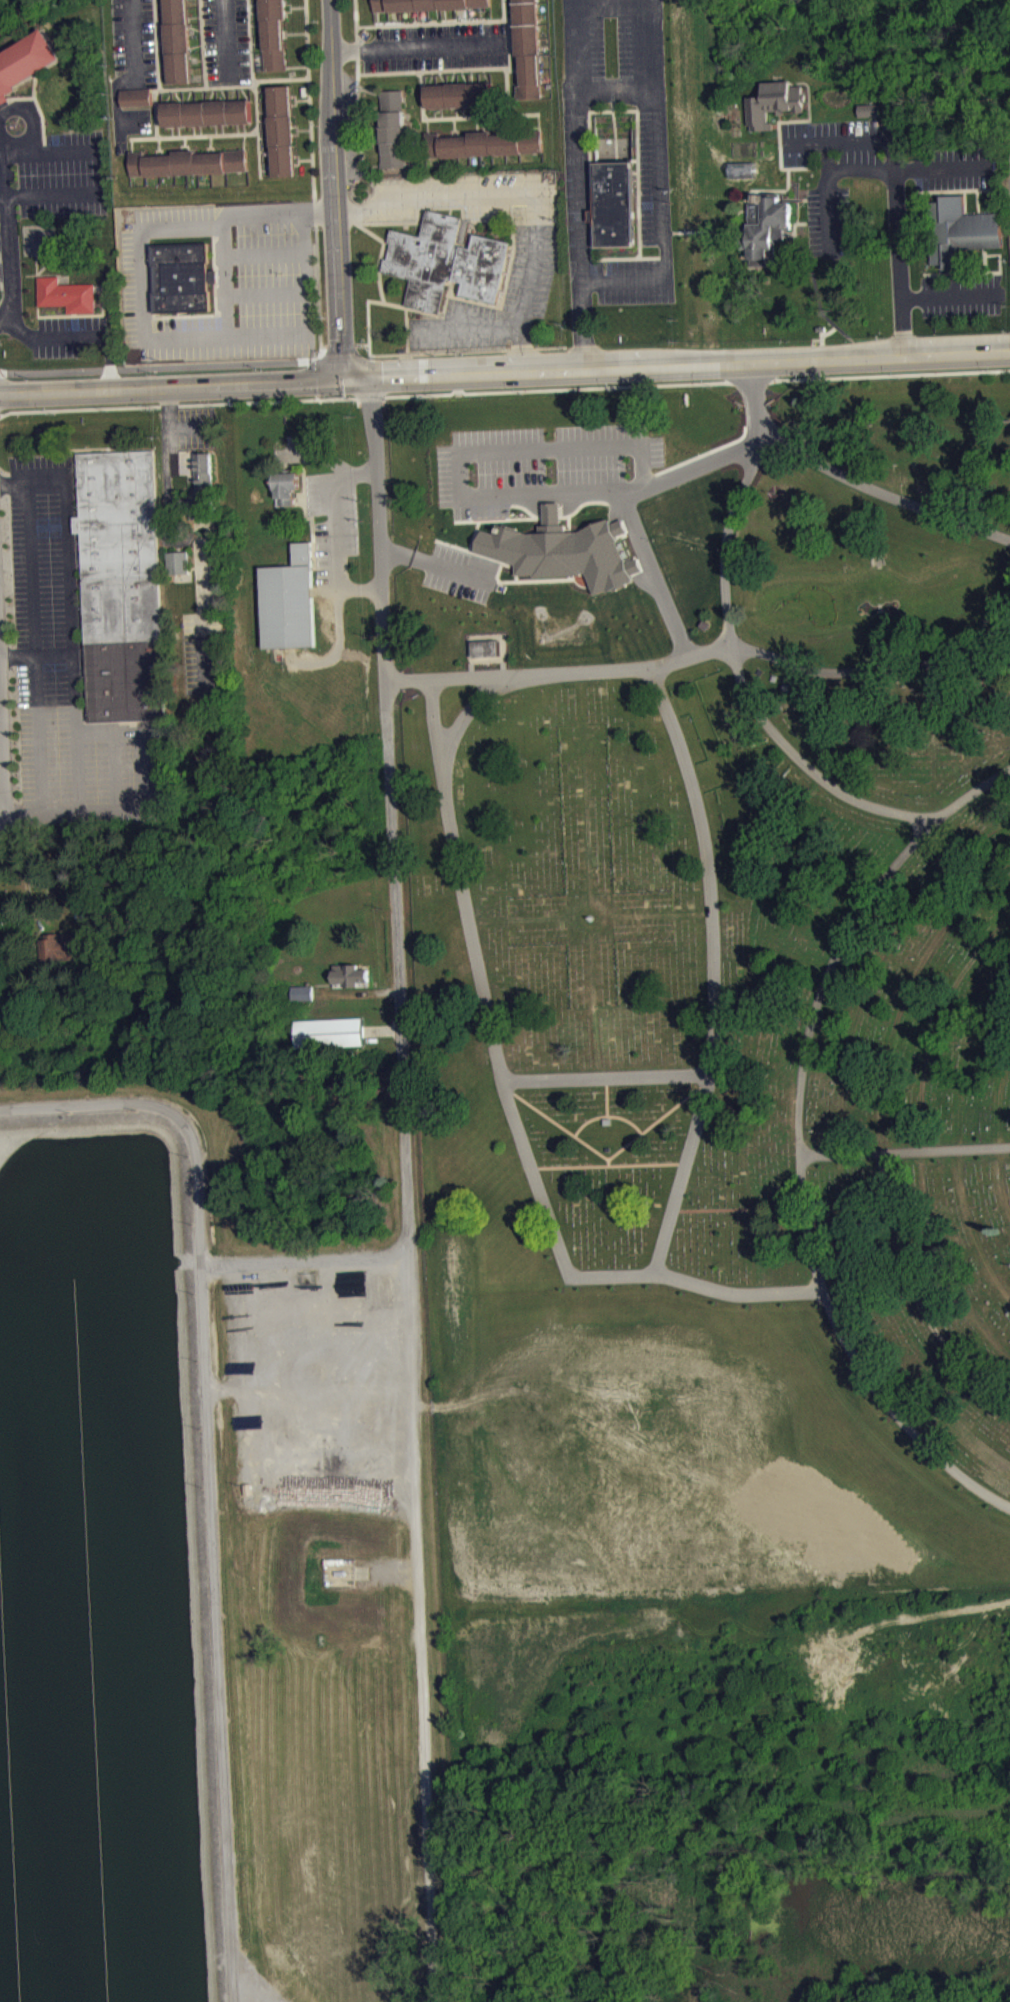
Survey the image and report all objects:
road: (255, 3)
road: (161, 4)
building: (424, 4)
road: (503, 5)
road: (293, 6)
road: (504, 10)
road: (288, 11)
road: (161, 12)
road: (256, 14)
road: (195, 15)
road: (431, 23)
road: (508, 23)
road: (256, 24)
road: (196, 28)
road: (286, 31)
road: (296, 32)
road: (162, 33)
building: (274, 34)
road: (509, 36)
road: (134, 40)
road: (250, 40)
building: (179, 41)
road: (162, 42)
road: (226, 42)
parking lot: (227, 42)
road: (257, 42)
parking lot: (134, 43)
road: (204, 43)
road: (157, 44)
road: (578, 44)
road: (197, 45)
road: (417, 46)
parking lot: (435, 47)
building: (528, 47)
road: (509, 53)
road: (258, 59)
building: (25, 62)
road: (163, 63)
road: (297, 66)
road: (486, 67)
road: (517, 67)
road: (515, 70)
road: (164, 72)
road: (646, 77)
road: (278, 78)
road: (794, 82)
road: (359, 85)
road: (262, 90)
road: (222, 93)
road: (243, 93)
road: (211, 94)
building: (459, 94)
road: (612, 94)
road: (187, 95)
road: (512, 95)
building: (136, 96)
road: (167, 96)
road: (176, 96)
road: (17, 98)
road: (296, 98)
road: (303, 99)
building: (774, 102)
road: (116, 105)
road: (478, 107)
road: (256, 108)
road: (434, 108)
road: (456, 108)
road: (41, 109)
road: (441, 109)
road: (463, 109)
road: (485, 109)
building: (870, 109)
road: (263, 111)
road: (31, 112)
building: (206, 113)
road: (434, 117)
road: (638, 117)
road: (782, 117)
building: (871, 117)
road: (263, 119)
road: (779, 121)
road: (483, 122)
road: (476, 123)
road: (589, 123)
road: (156, 124)
road: (427, 124)
road: (503, 124)
road: (509, 124)
parking lot: (130, 125)
road: (776, 125)
road: (453, 126)
road: (237, 128)
road: (244, 128)
building: (282, 128)
road: (298, 128)
road: (304, 128)
building: (392, 128)
road: (215, 129)
road: (222, 129)
road: (193, 130)
road: (200, 130)
road: (178, 131)
road: (457, 131)
road: (172, 132)
parking lot: (653, 133)
road: (265, 137)
road: (244, 140)
parking lot: (833, 140)
road: (132, 141)
road: (838, 141)
building: (483, 143)
road: (781, 143)
road: (184, 144)
road: (210, 144)
road: (188, 146)
road: (159, 147)
road: (213, 148)
road: (52, 150)
road: (163, 150)
road: (266, 150)
road: (259, 154)
road: (299, 158)
road: (306, 158)
road: (631, 159)
road: (649, 159)
building: (188, 162)
road: (943, 167)
parking lot: (953, 168)
road: (862, 169)
road: (266, 170)
road: (650, 171)
road: (313, 172)
road: (3, 173)
parking lot: (51, 175)
road: (354, 175)
road: (964, 178)
road: (977, 178)
road: (789, 184)
road: (332, 187)
road: (765, 190)
road: (955, 190)
road: (55, 193)
parking lot: (468, 195)
road: (498, 195)
road: (820, 197)
road: (831, 197)
road: (799, 198)
road: (979, 201)
road: (966, 202)
building: (614, 204)
road: (798, 210)
road: (583, 214)
parking lot: (830, 219)
road: (820, 221)
road: (370, 222)
road: (665, 222)
road: (513, 225)
road: (796, 226)
building: (768, 227)
road: (6, 229)
road: (583, 229)
road: (728, 230)
building: (960, 231)
road: (656, 232)
road: (303, 233)
road: (4, 235)
road: (639, 235)
road: (592, 239)
road: (898, 244)
road: (384, 258)
building: (446, 261)
road: (41, 268)
road: (941, 269)
road: (379, 271)
road: (973, 272)
road: (227, 274)
road: (54, 275)
building: (182, 276)
parking lot: (134, 277)
road: (959, 284)
parking lot: (251, 290)
road: (817, 290)
road: (10, 291)
road: (238, 293)
building: (67, 294)
parking lot: (962, 295)
road: (951, 296)
road: (37, 304)
road: (402, 307)
road: (102, 310)
parking lot: (470, 326)
road: (491, 326)
road: (407, 330)
road: (288, 331)
road: (826, 333)
road: (96, 334)
parking lot: (74, 335)
road: (340, 344)
road: (361, 344)
road: (461, 350)
road: (853, 357)
road: (315, 359)
road: (169, 362)
road: (505, 371)
traffic signals: (370, 374)
traffic signals: (340, 375)
road: (316, 376)
road: (696, 382)
road: (317, 395)
road: (370, 396)
road: (178, 404)
road: (168, 426)
road: (325, 461)
road: (853, 481)
building: (286, 484)
building: (200, 487)
parking lot: (328, 504)
road: (632, 507)
road: (338, 527)
road: (67, 546)
building: (566, 557)
building: (178, 561)
road: (433, 572)
building: (121, 583)
building: (289, 601)
road: (339, 629)
road: (34, 638)
building: (486, 647)
road: (708, 653)
building: (487, 655)
parking lot: (68, 674)
road: (739, 677)
road: (74, 701)
road: (386, 714)
road: (1, 715)
road: (465, 722)
road: (149, 738)
road: (4, 755)
road: (116, 775)
road: (4, 820)
building: (60, 946)
road: (879, 965)
road: (714, 970)
building: (641, 972)
building: (350, 973)
park: (710, 986)
building: (302, 990)
building: (303, 1000)
road: (383, 1029)
building: (330, 1030)
road: (607, 1079)
road: (608, 1098)
road: (512, 1108)
road: (608, 1118)
road: (1003, 1133)
road: (922, 1137)
road: (958, 1137)
road: (882, 1138)
road: (801, 1139)
road: (905, 1153)
road: (609, 1160)
road: (610, 1164)
road: (609, 1167)
road: (307, 1266)
road: (210, 1465)
road: (415, 1528)
wastewater plant: (220, 1547)

